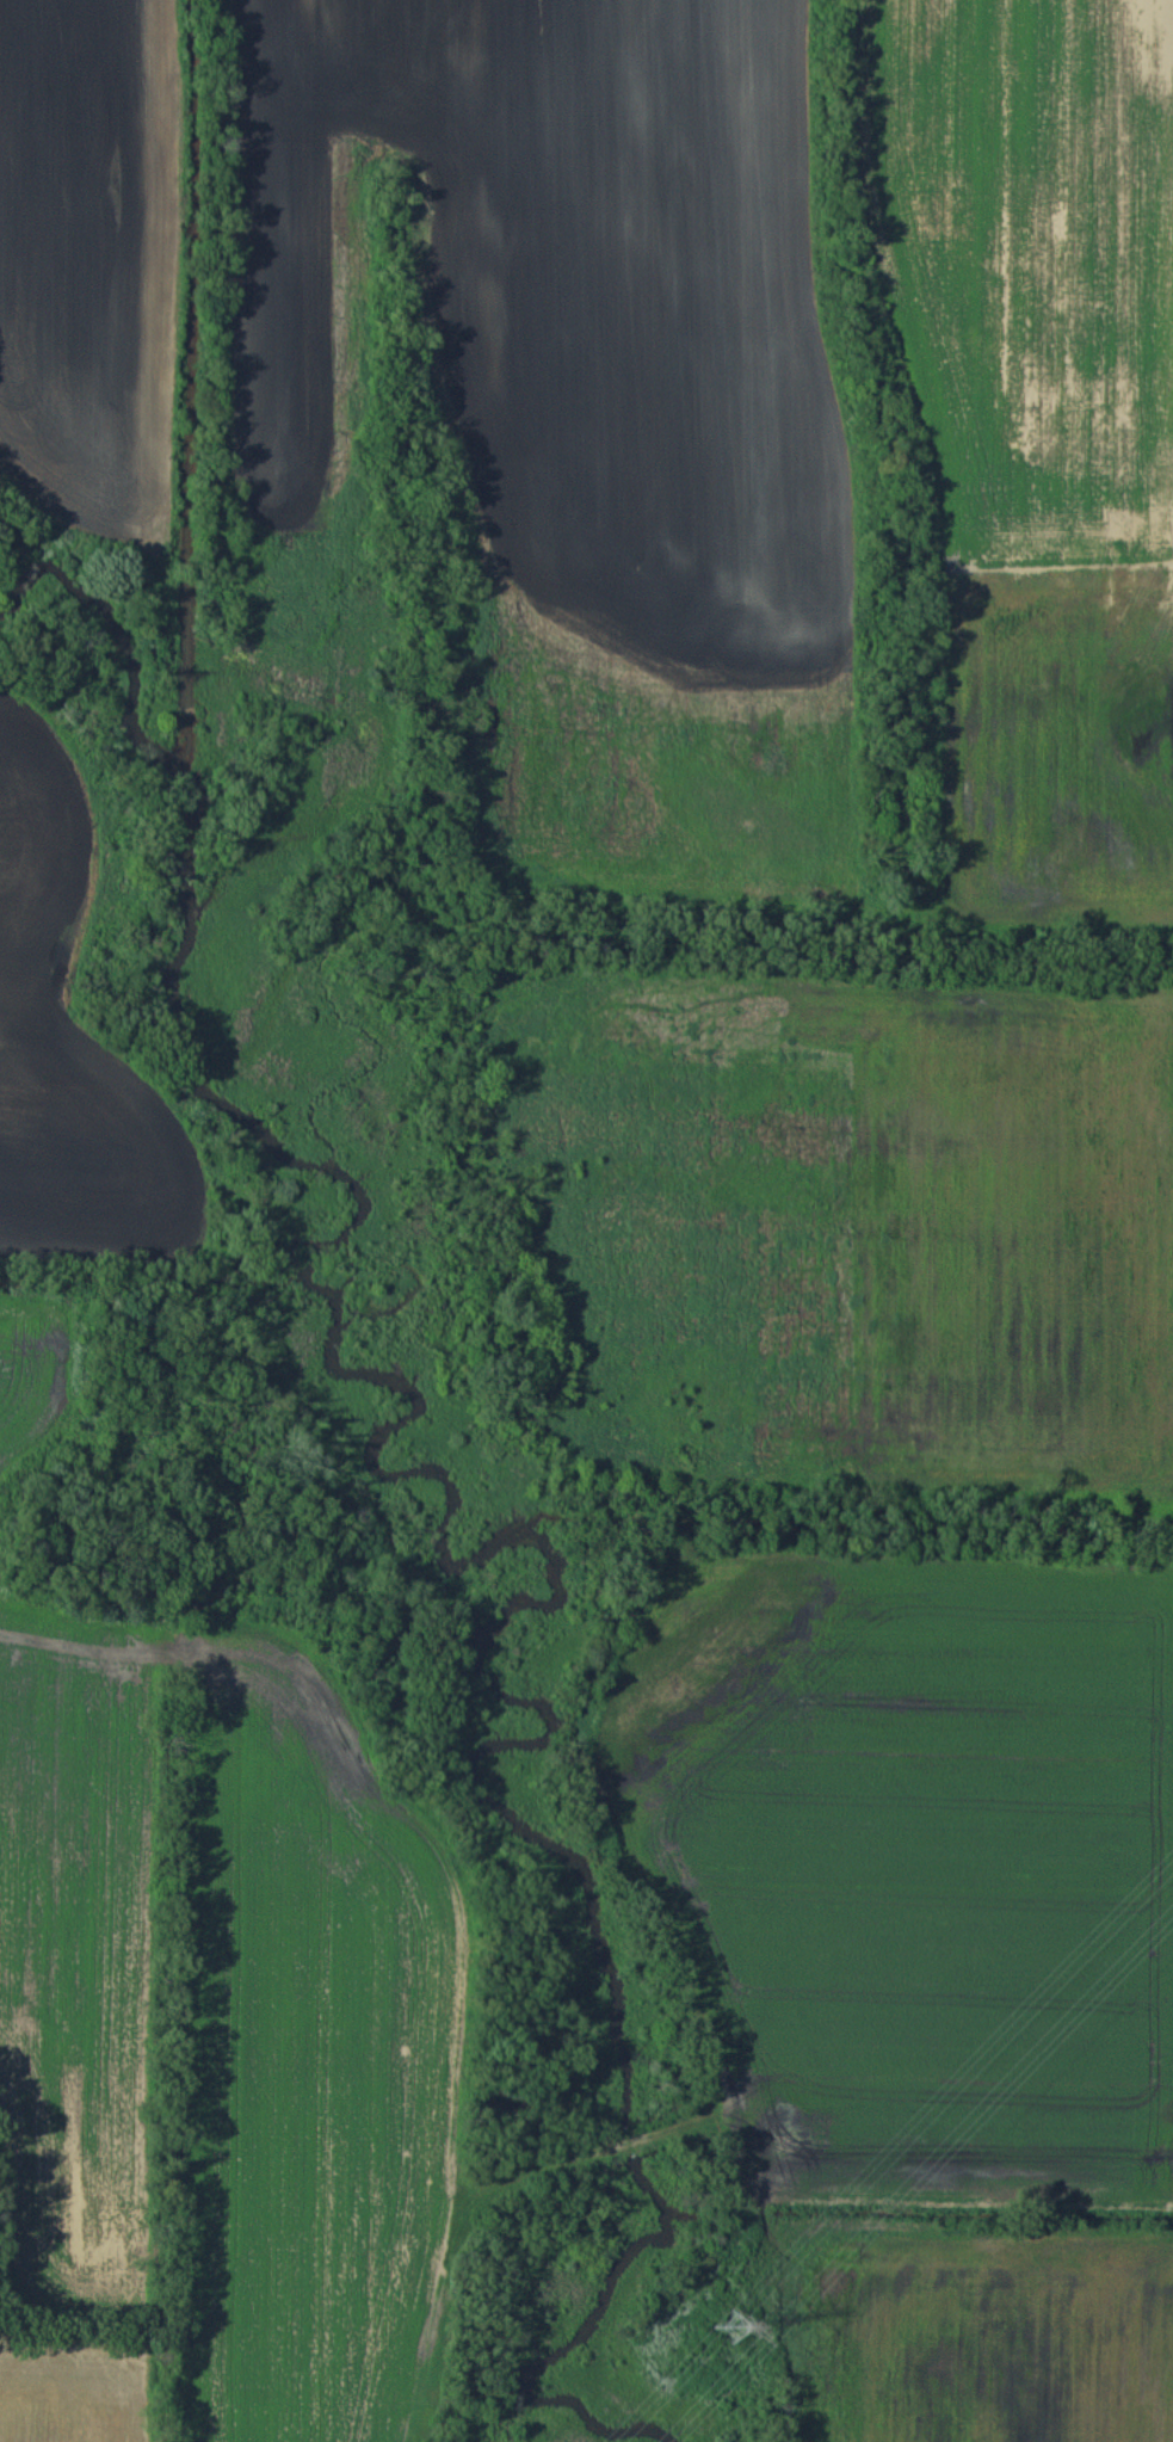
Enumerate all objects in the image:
power tower: (727, 2324)

